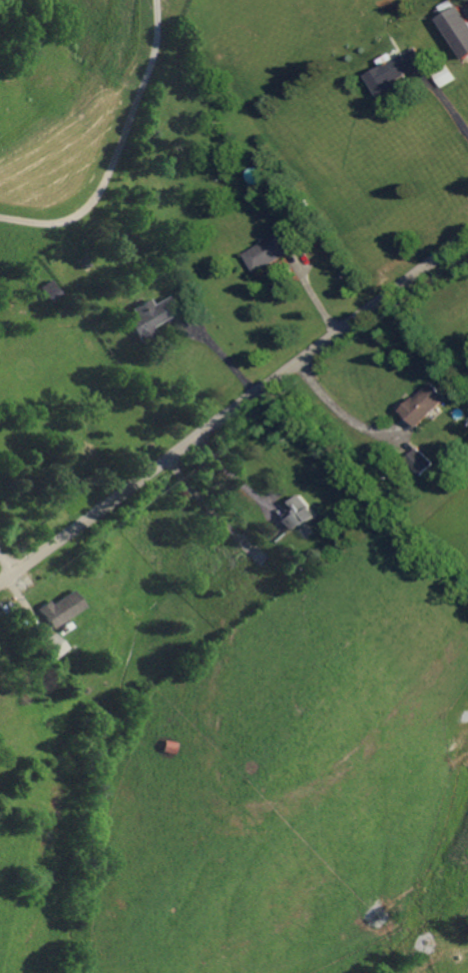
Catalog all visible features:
building: (457, 28)
building: (392, 70)
building: (442, 75)
road: (451, 113)
road: (115, 147)
building: (268, 251)
building: (49, 290)
building: (149, 315)
road: (220, 354)
building: (424, 404)
road: (335, 407)
road: (233, 411)
building: (417, 460)
road: (236, 479)
building: (301, 512)
road: (7, 564)
building: (59, 608)
building: (53, 644)

